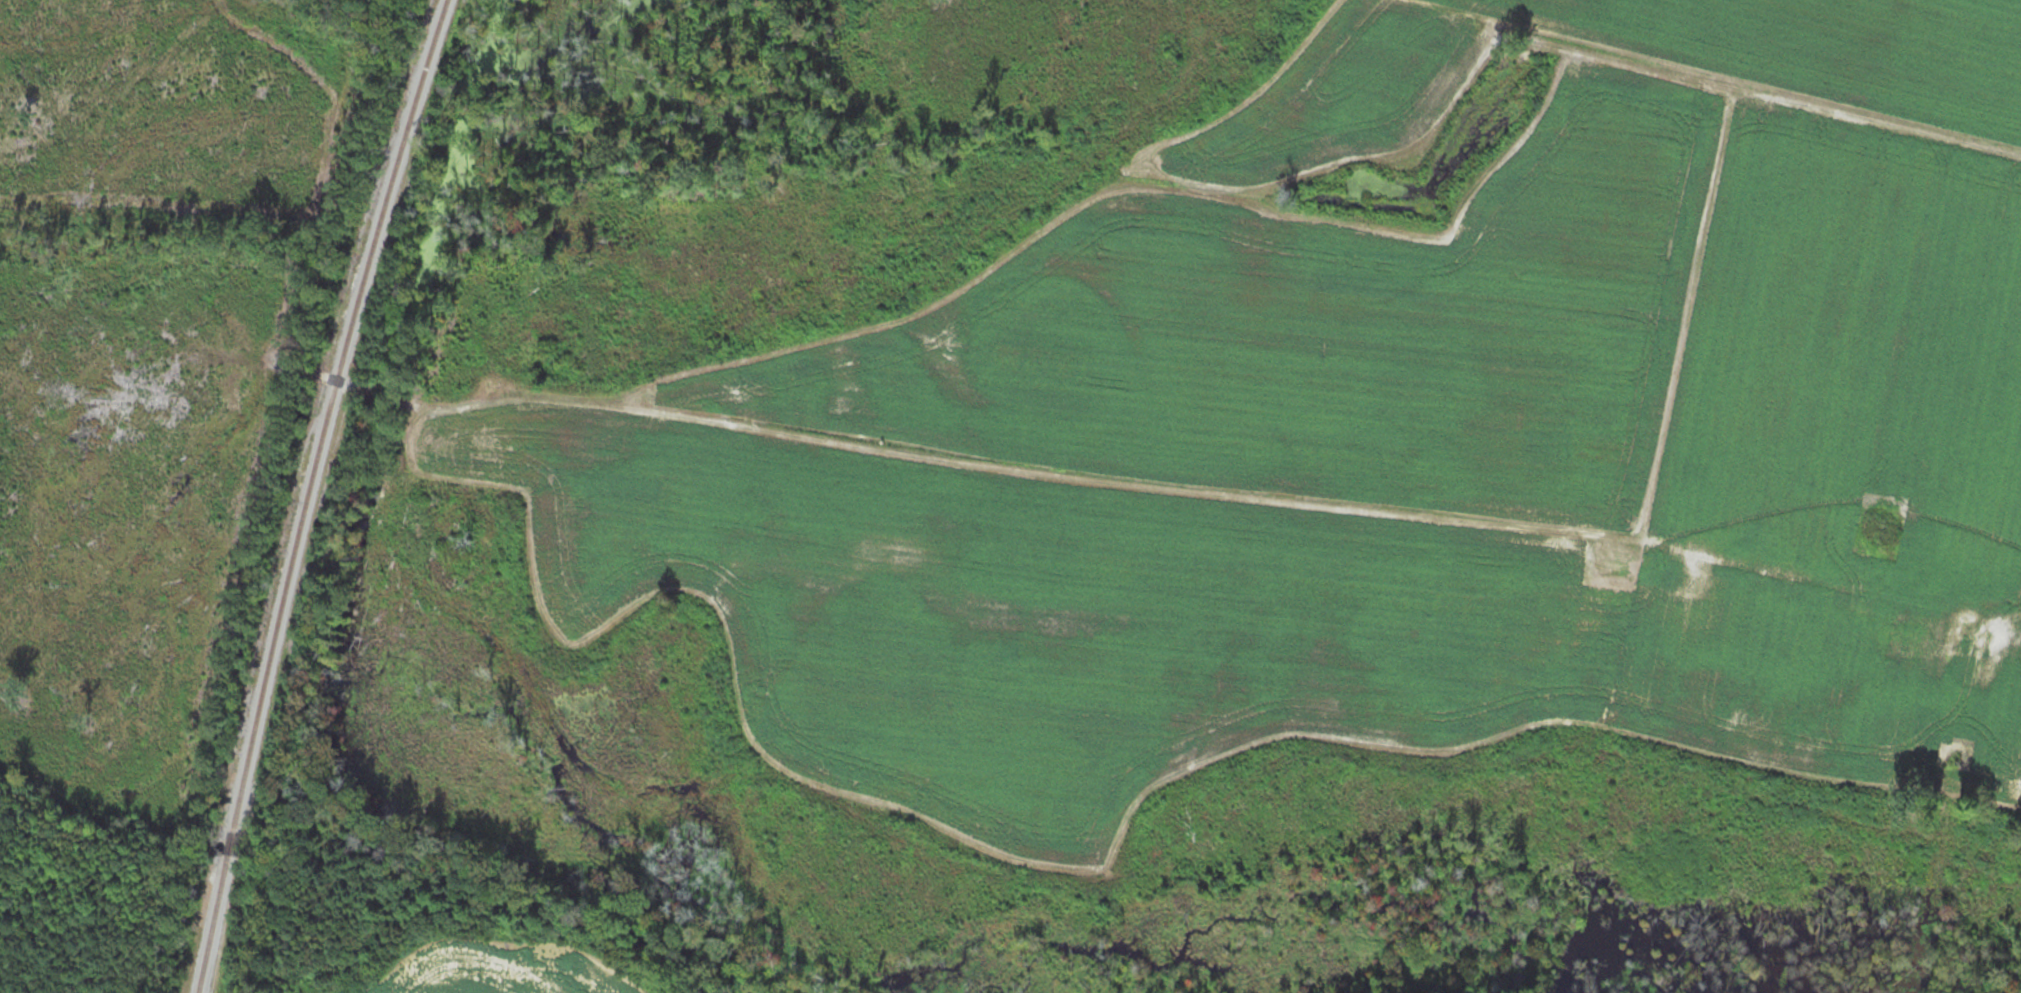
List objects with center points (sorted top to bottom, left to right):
railway: (327, 412)
road: (1252, 497)
road: (2017, 583)
building: (1970, 641)
railway: (229, 844)
railway: (212, 924)

